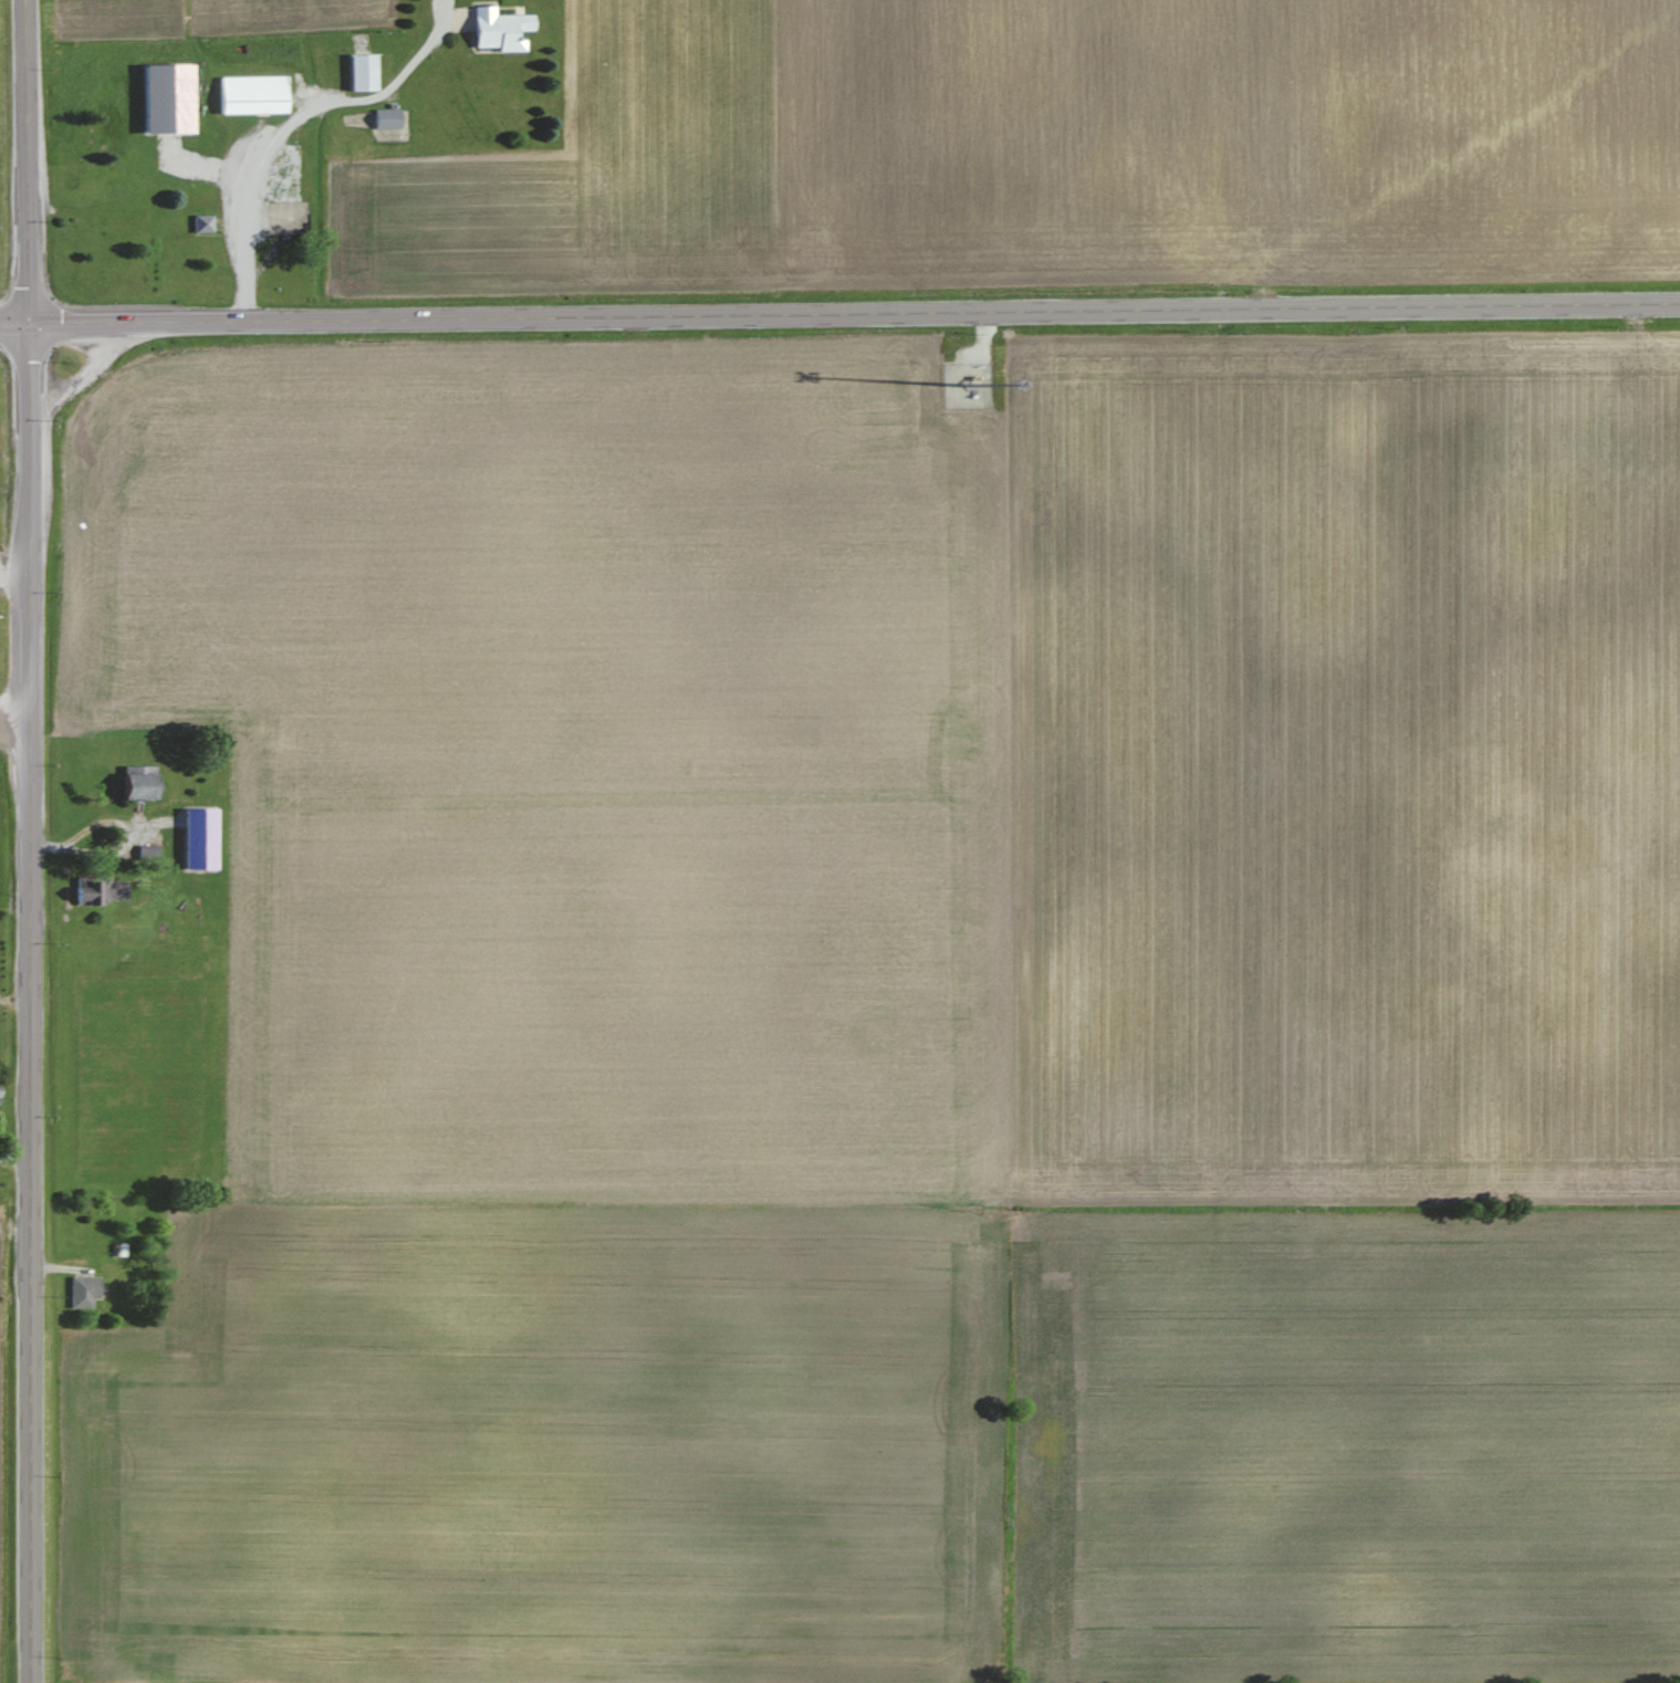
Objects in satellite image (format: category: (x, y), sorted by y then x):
building: (503, 28)
building: (254, 94)
building: (390, 116)
road: (29, 164)
building: (206, 221)
road: (855, 316)
road: (15, 328)
building: (145, 784)
building: (106, 890)
road: (28, 1005)
building: (86, 1290)

